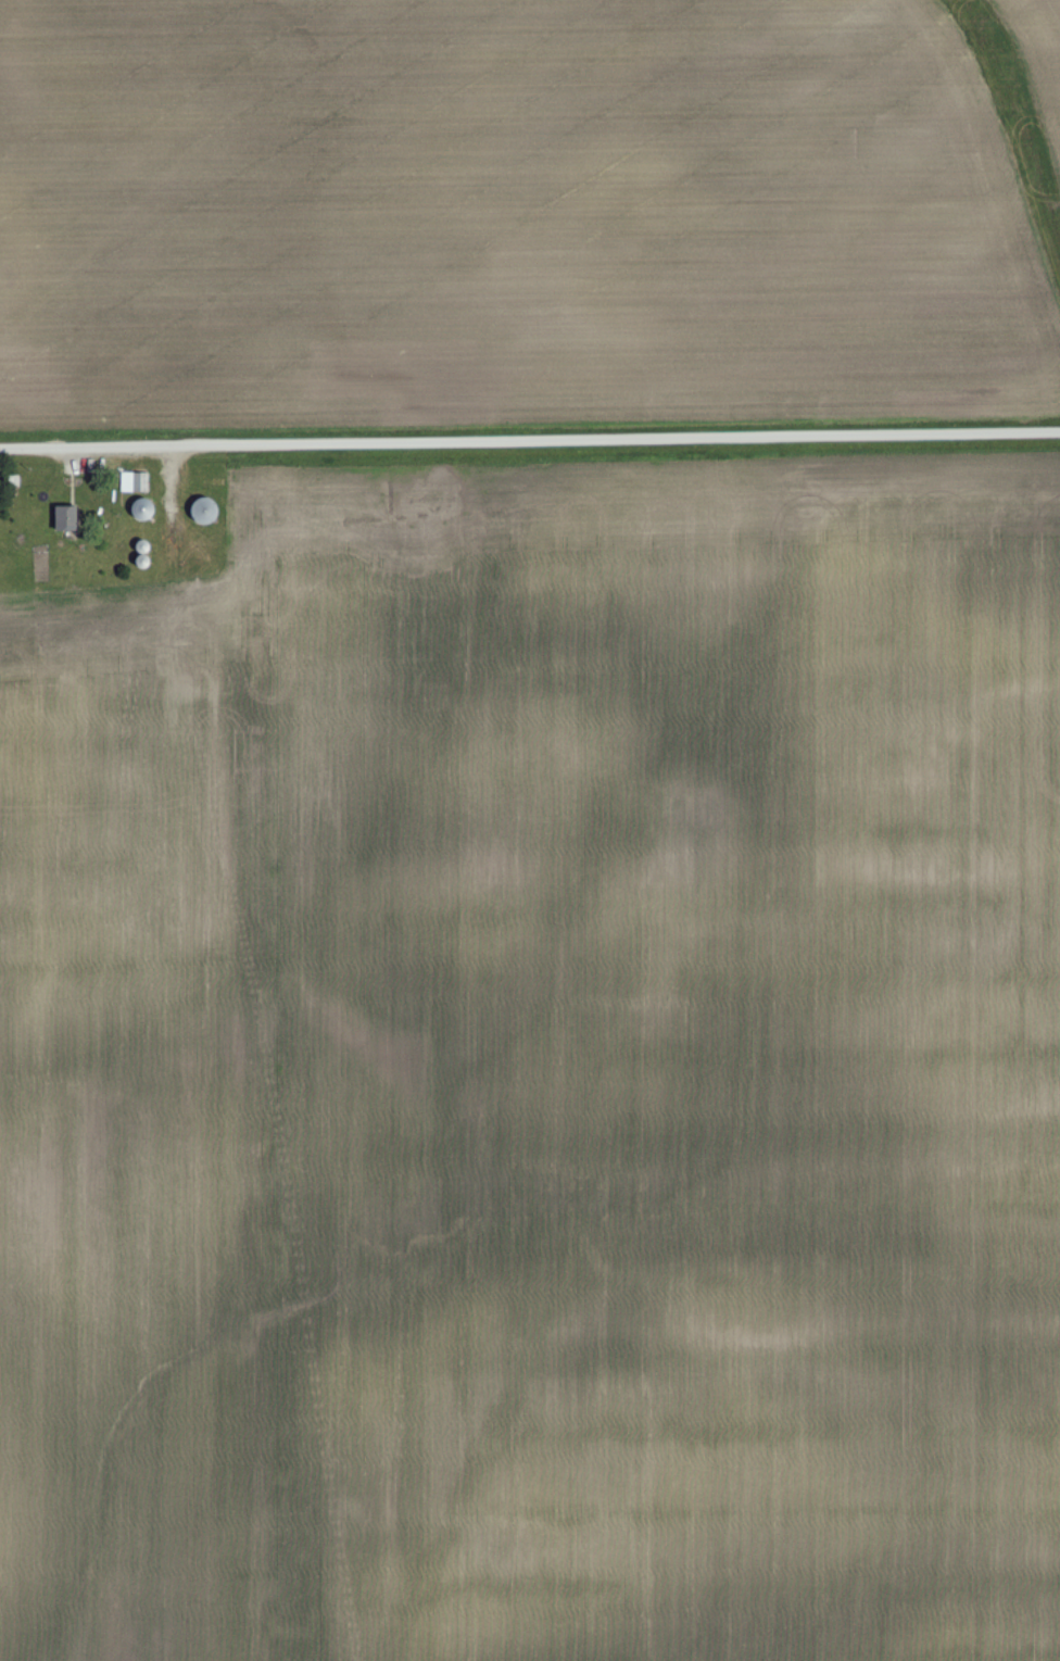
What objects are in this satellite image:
crop: (1039, 52)
crop: (507, 216)
road: (530, 442)
crop: (540, 1073)

